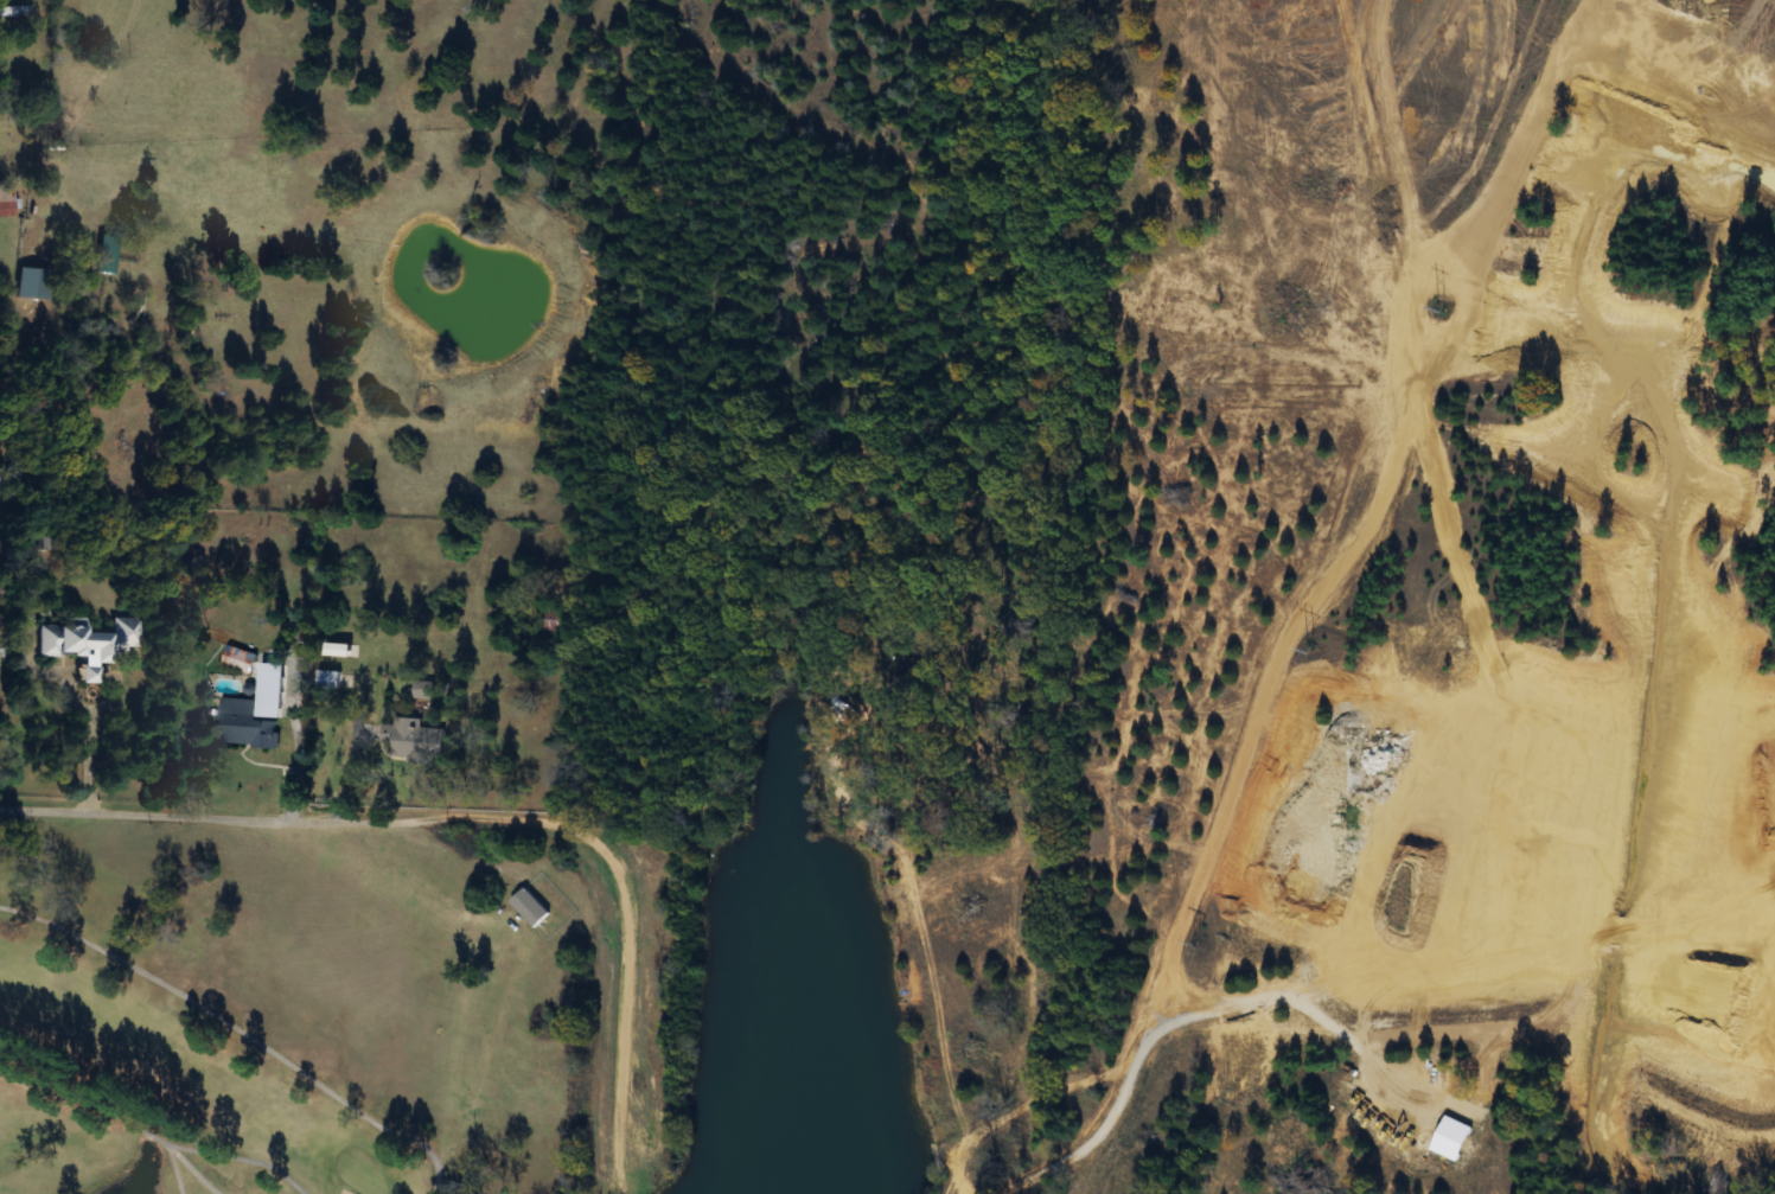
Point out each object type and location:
building: (7, 200)
building: (84, 221)
building: (88, 638)
building: (241, 660)
building: (89, 675)
road: (75, 703)
building: (247, 726)
building: (415, 743)
road: (289, 746)
road: (470, 811)
building: (531, 908)

